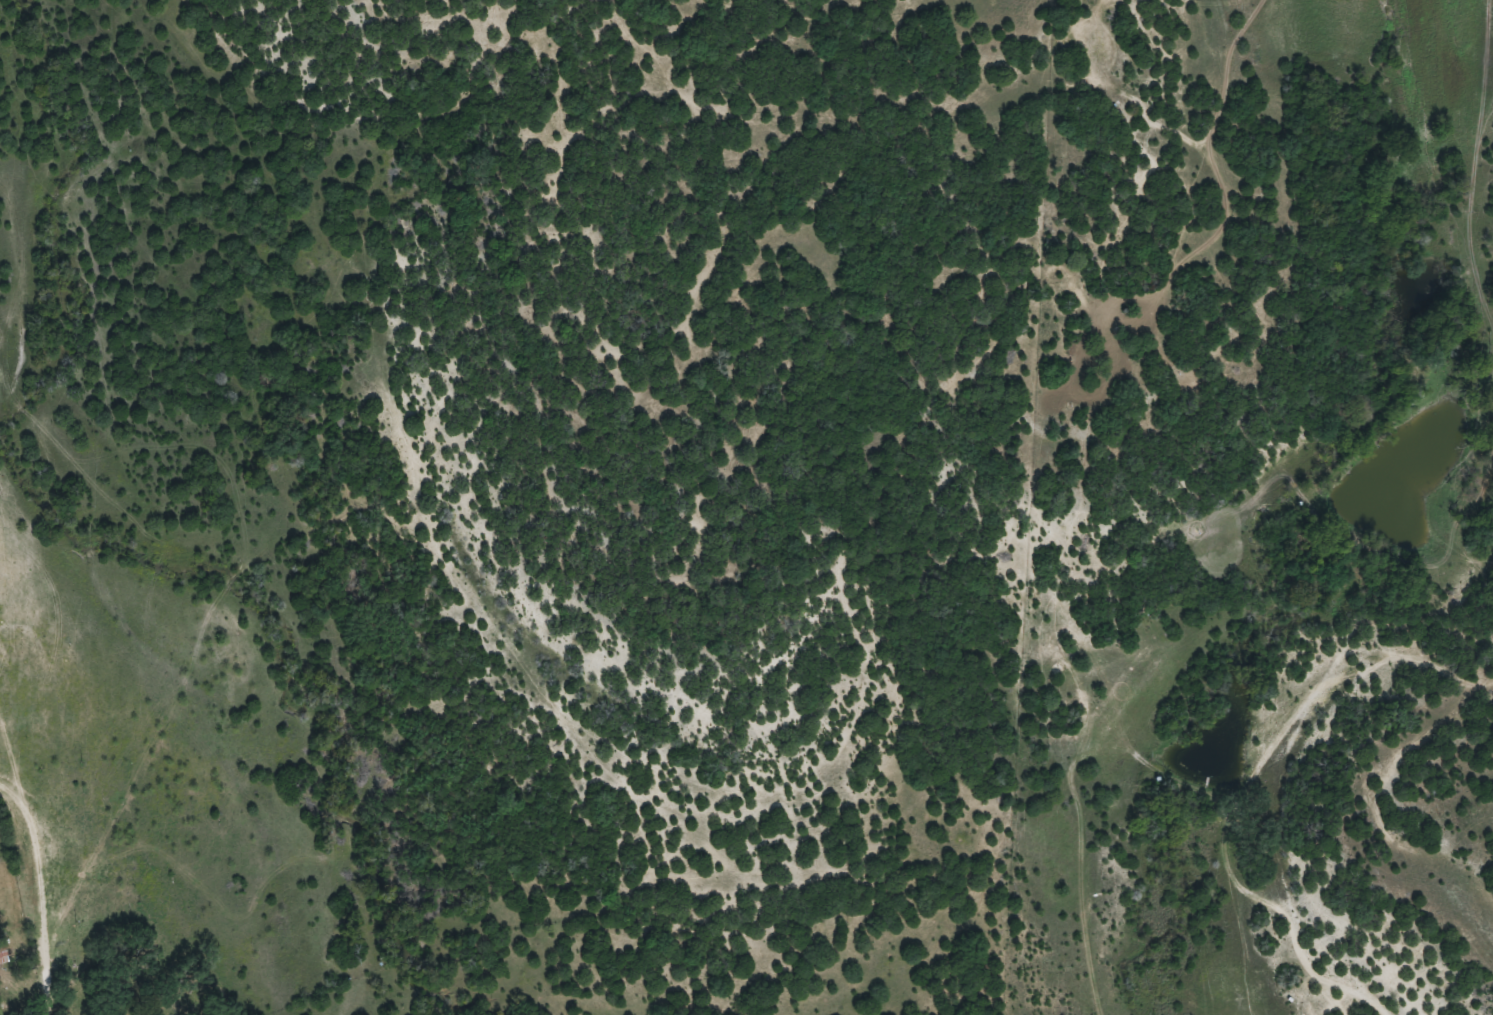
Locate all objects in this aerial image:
road: (1017, 852)
road: (22, 919)
building: (3, 953)

